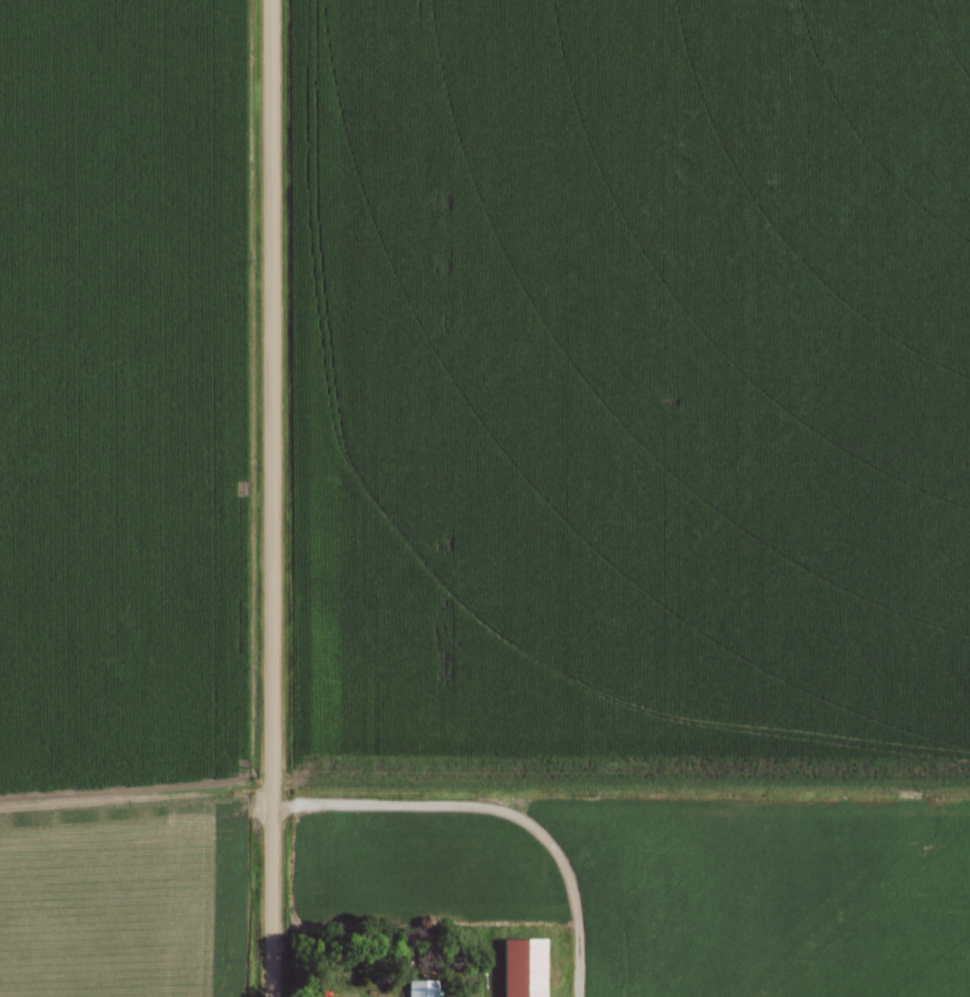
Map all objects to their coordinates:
crop: (124, 393)
crop: (653, 434)
road: (273, 498)
crop: (125, 897)
building: (522, 968)
building: (419, 989)

